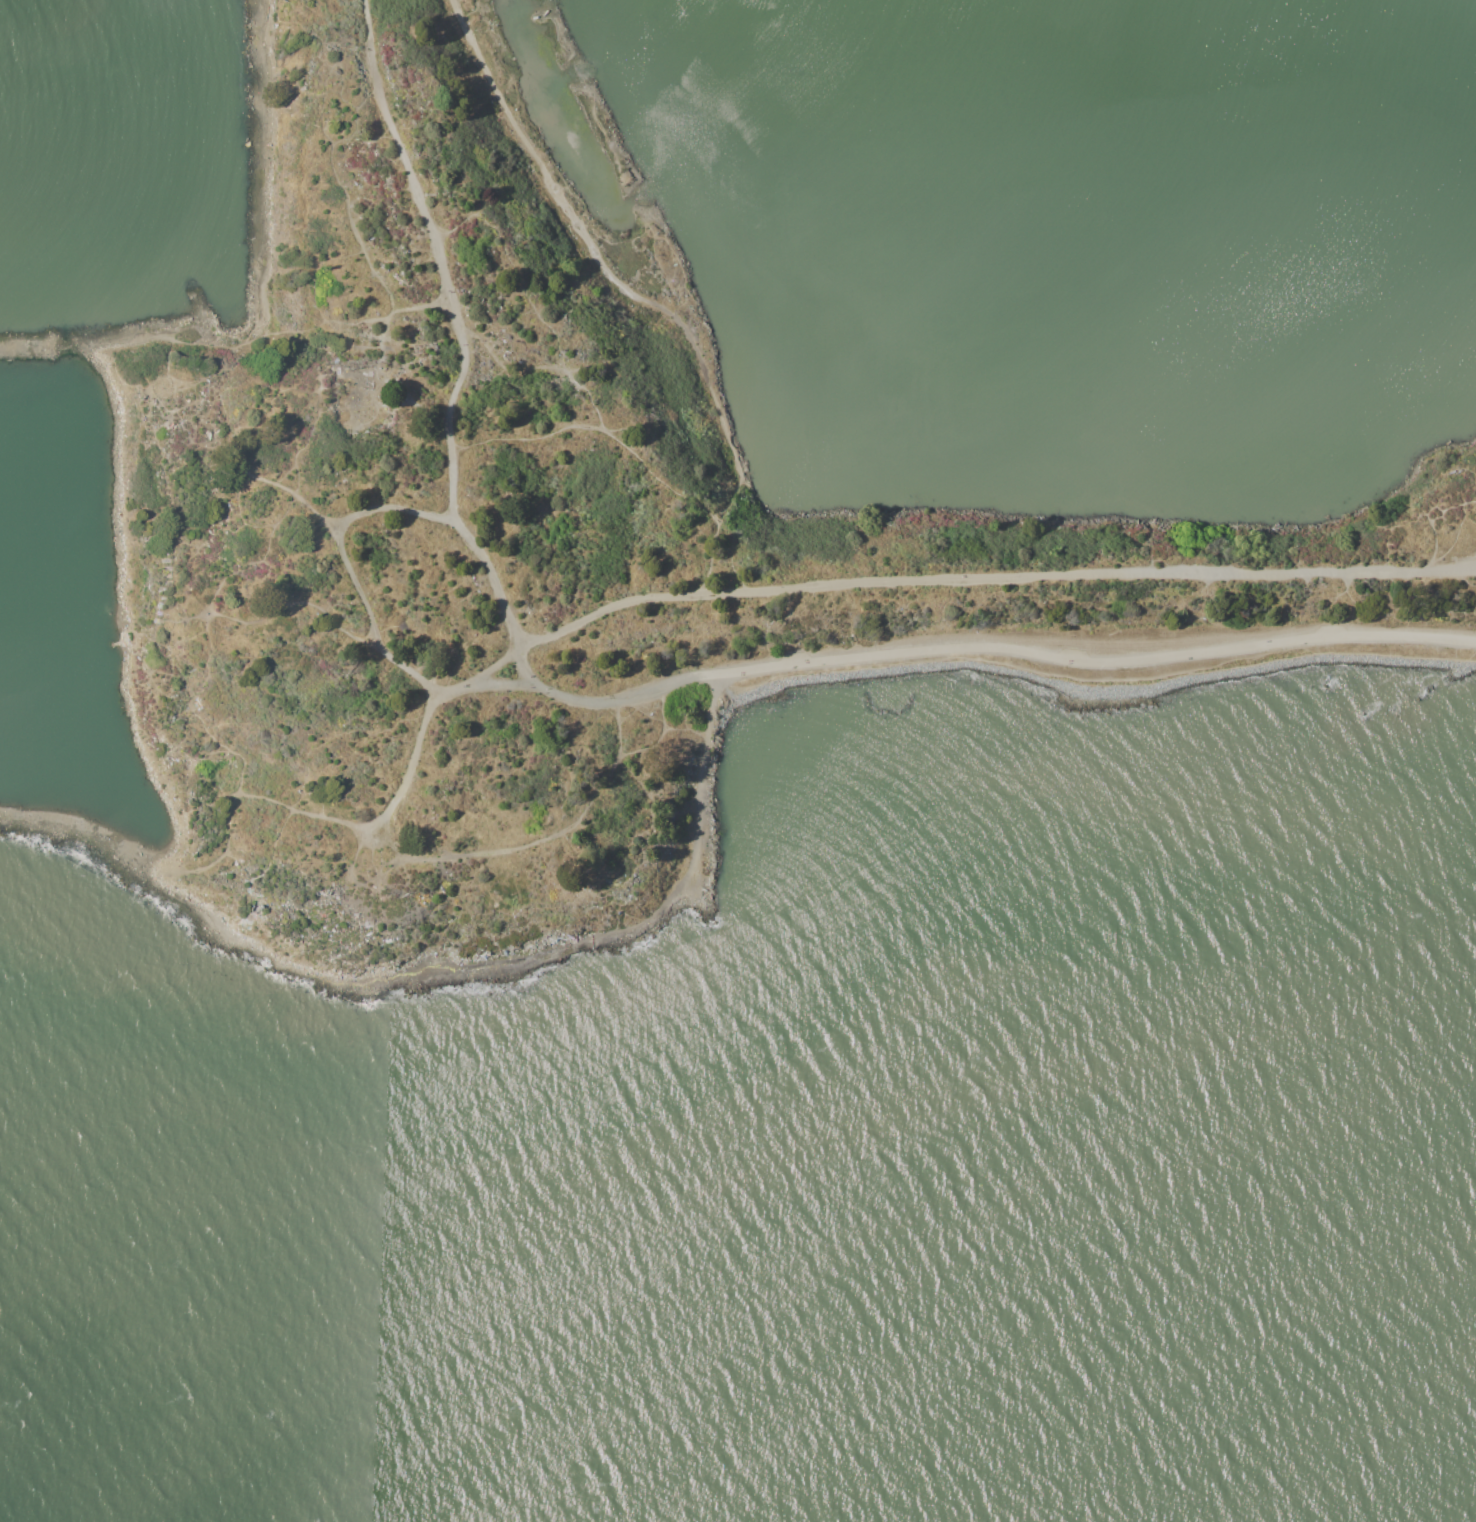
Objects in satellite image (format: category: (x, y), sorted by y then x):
park: (587, 91)
road: (261, 168)
road: (435, 260)
road: (629, 298)
road: (379, 333)
road: (130, 339)
road: (327, 348)
road: (221, 490)
road: (394, 507)
road: (341, 536)
park: (350, 541)
road: (1270, 578)
road: (786, 589)
park: (988, 594)
road: (500, 595)
road: (1097, 645)
road: (506, 679)
road: (623, 700)
road: (393, 804)
road: (109, 856)
road: (238, 921)
road: (553, 953)

